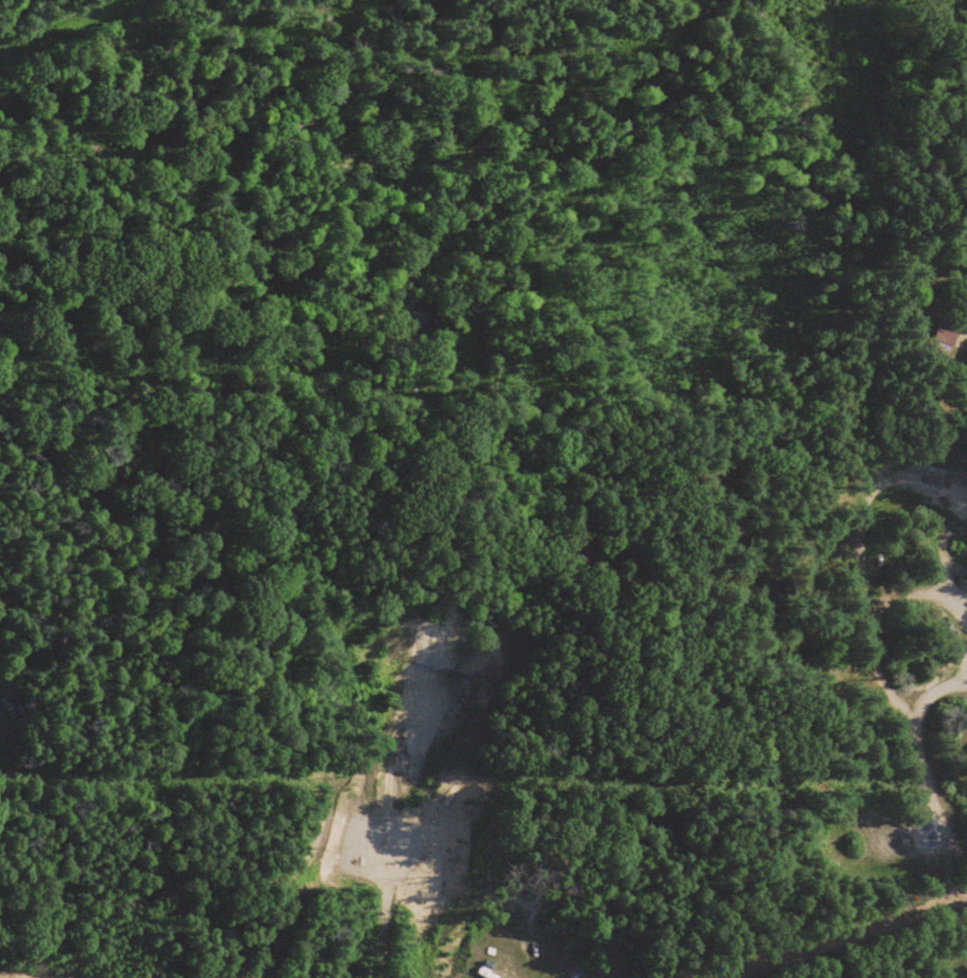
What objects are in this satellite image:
building: (947, 333)
road: (842, 934)
road: (0, 977)

